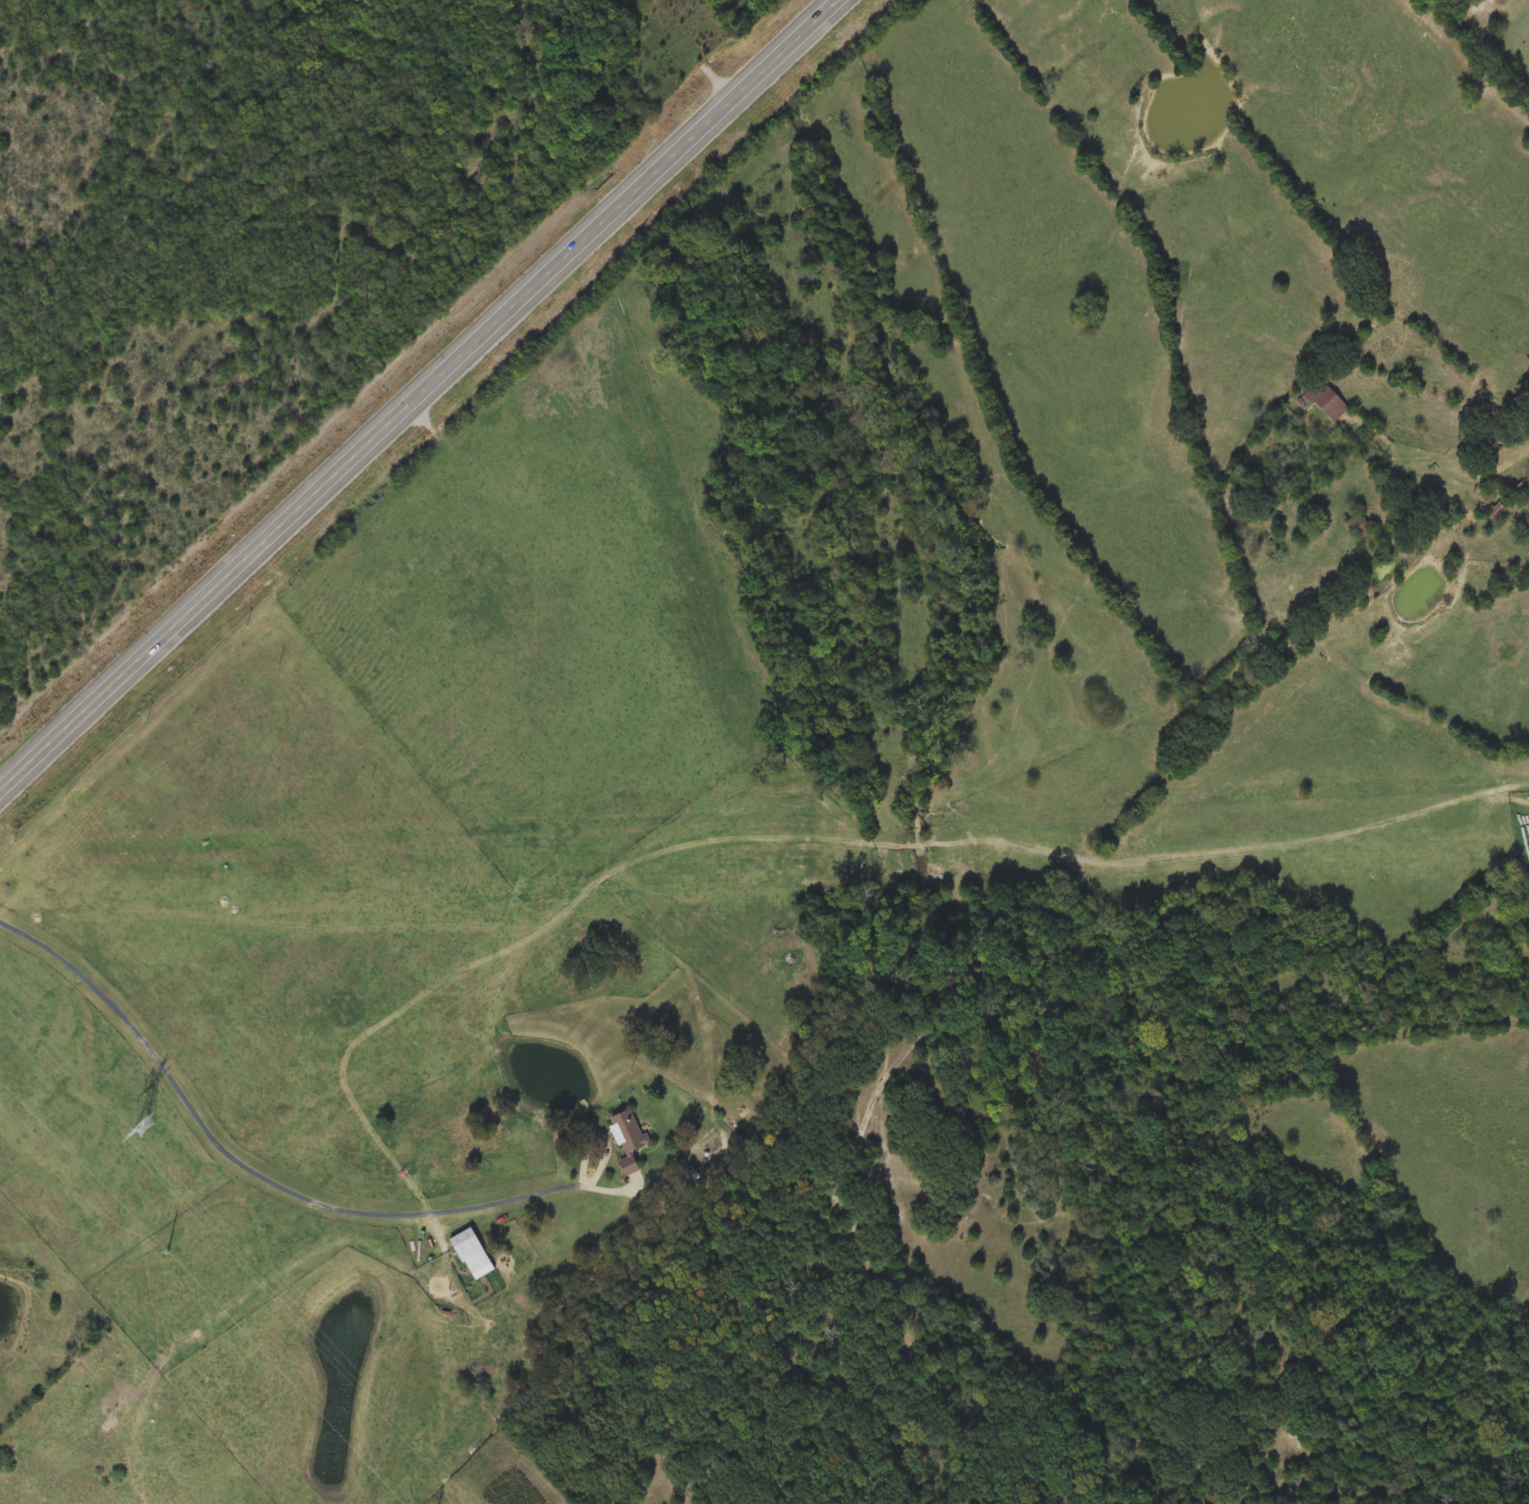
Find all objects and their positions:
road: (1151, 56)
road: (1467, 61)
road: (1448, 361)
road: (419, 397)
road: (1457, 398)
building: (1324, 399)
road: (1488, 474)
building: (1359, 525)
building: (338, 1000)
power tower: (144, 1127)
building: (631, 1137)
road: (247, 1160)
building: (473, 1252)

